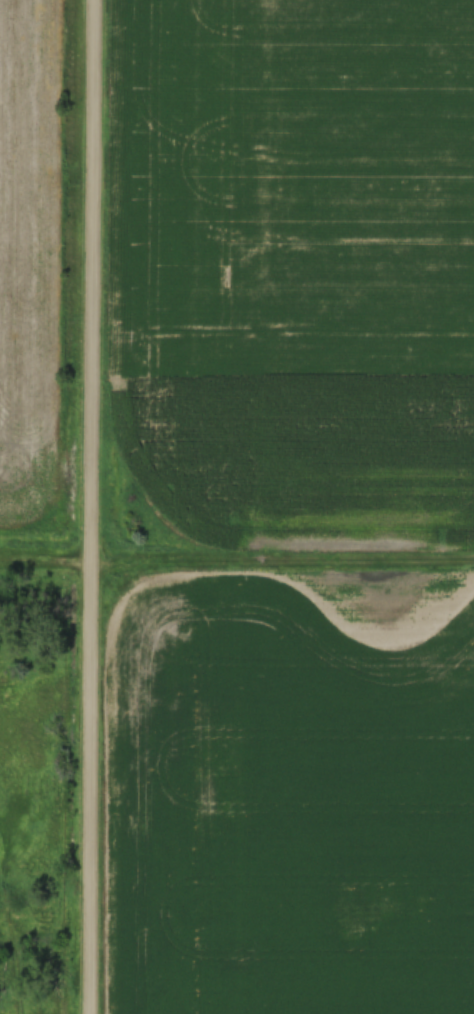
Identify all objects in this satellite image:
road: (81, 506)
road: (277, 572)

